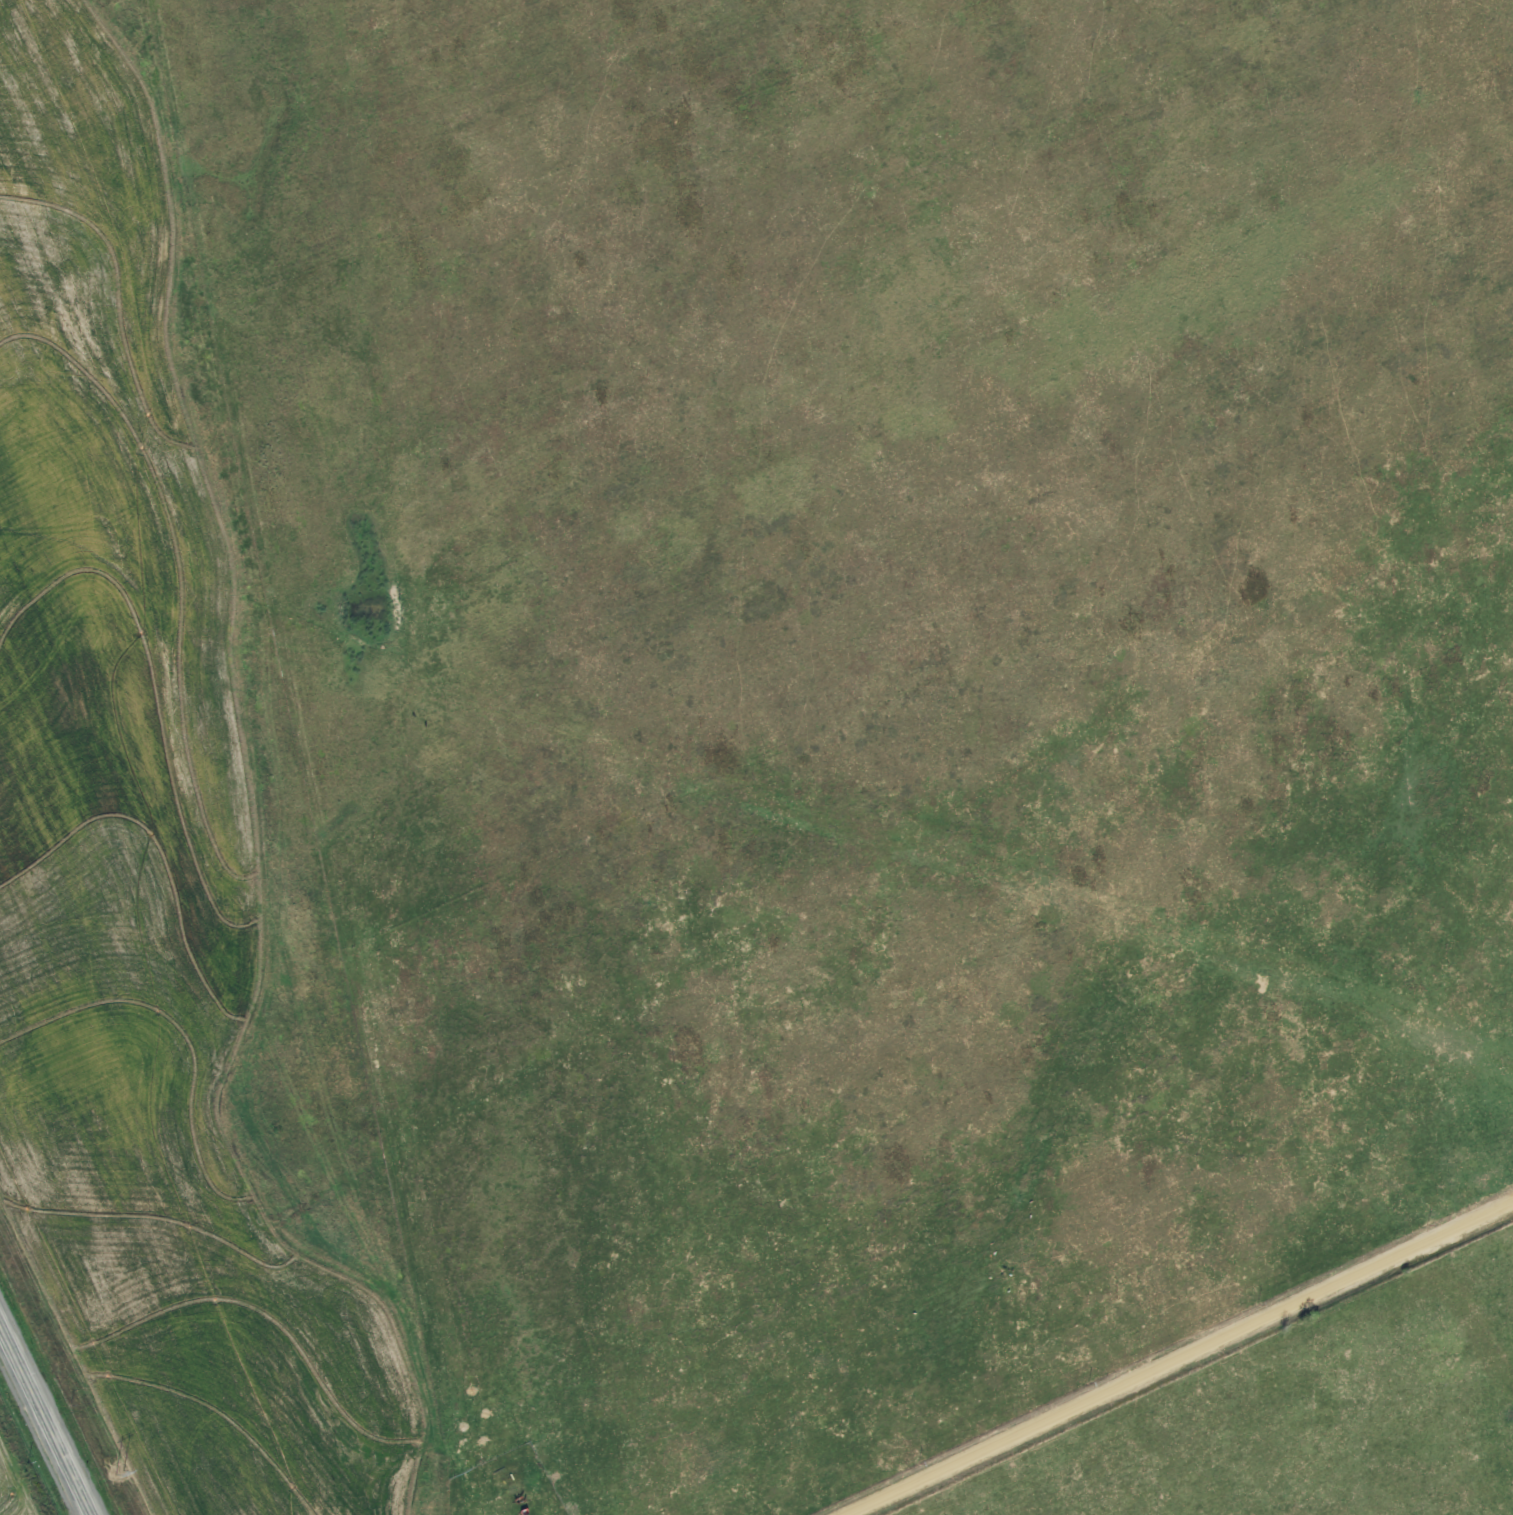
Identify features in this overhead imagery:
road: (1180, 1357)
road: (44, 1422)
power tower: (119, 1471)

